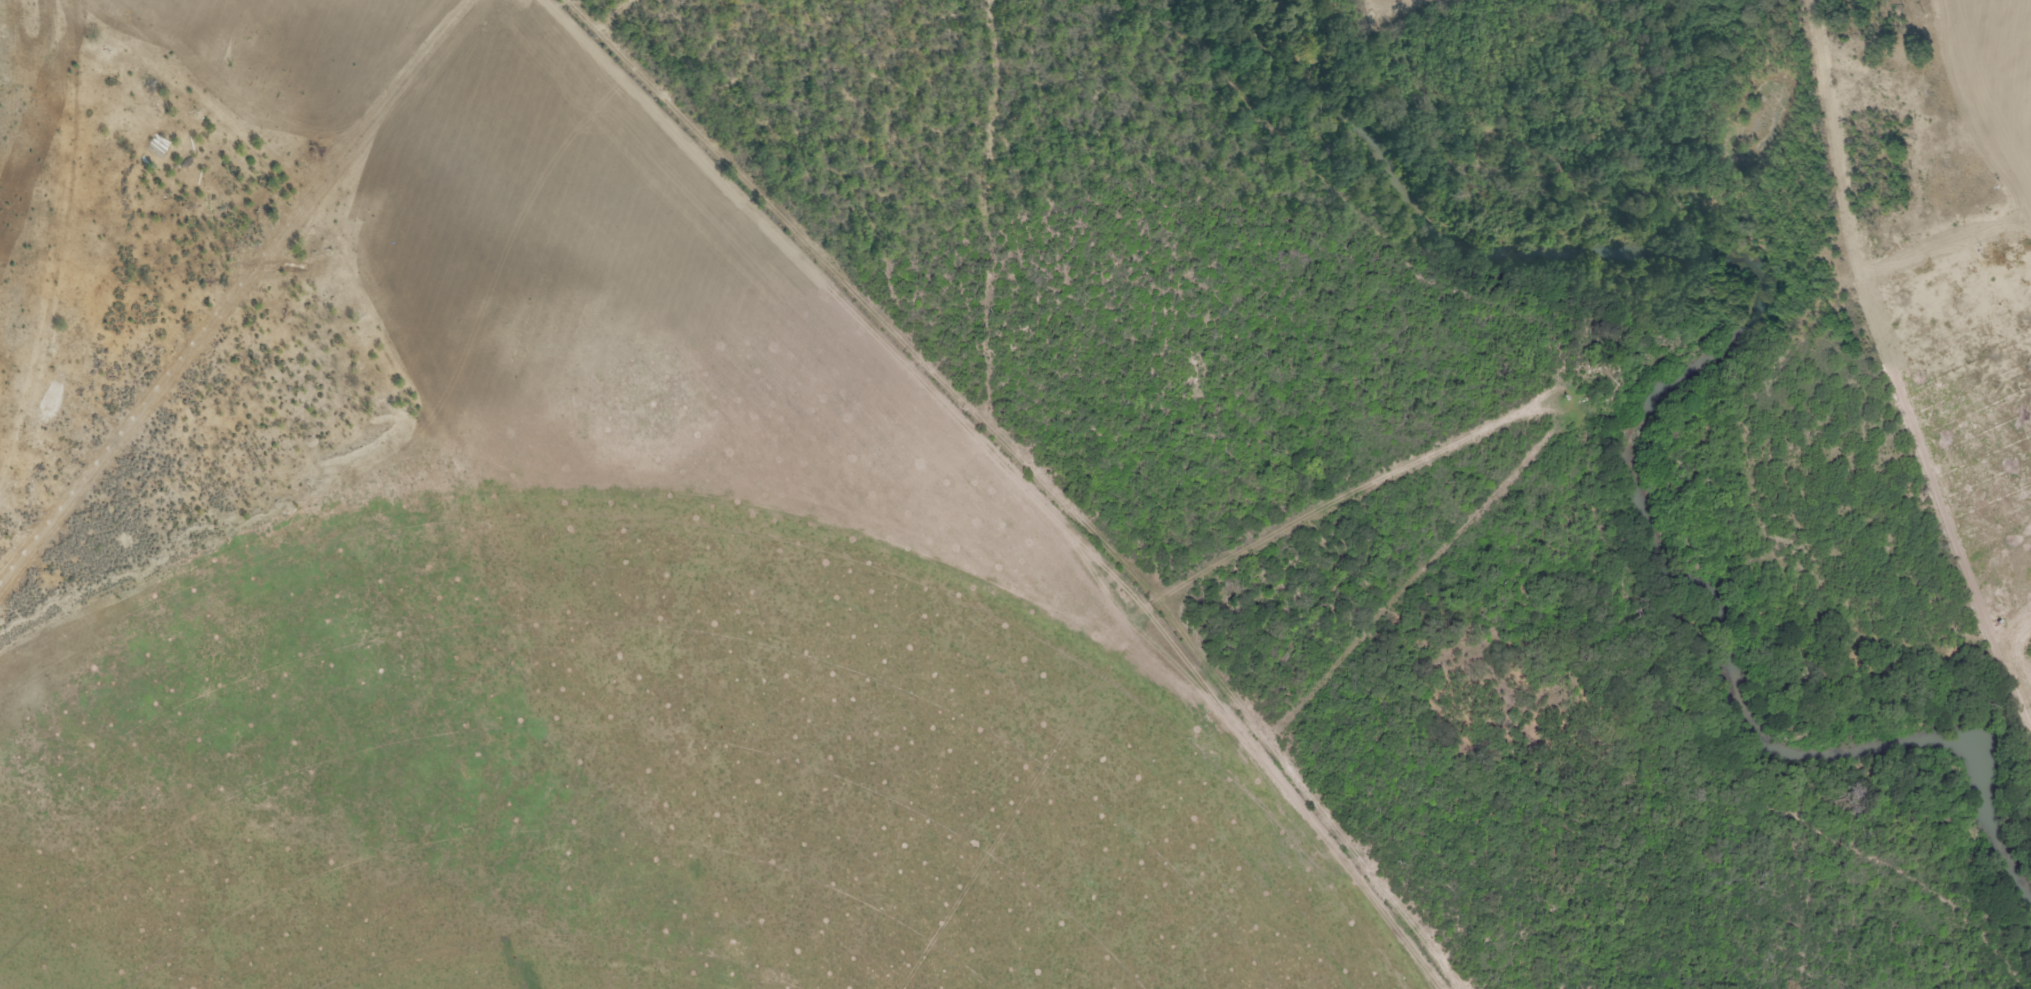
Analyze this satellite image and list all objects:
road: (789, 161)
river: (1662, 360)

